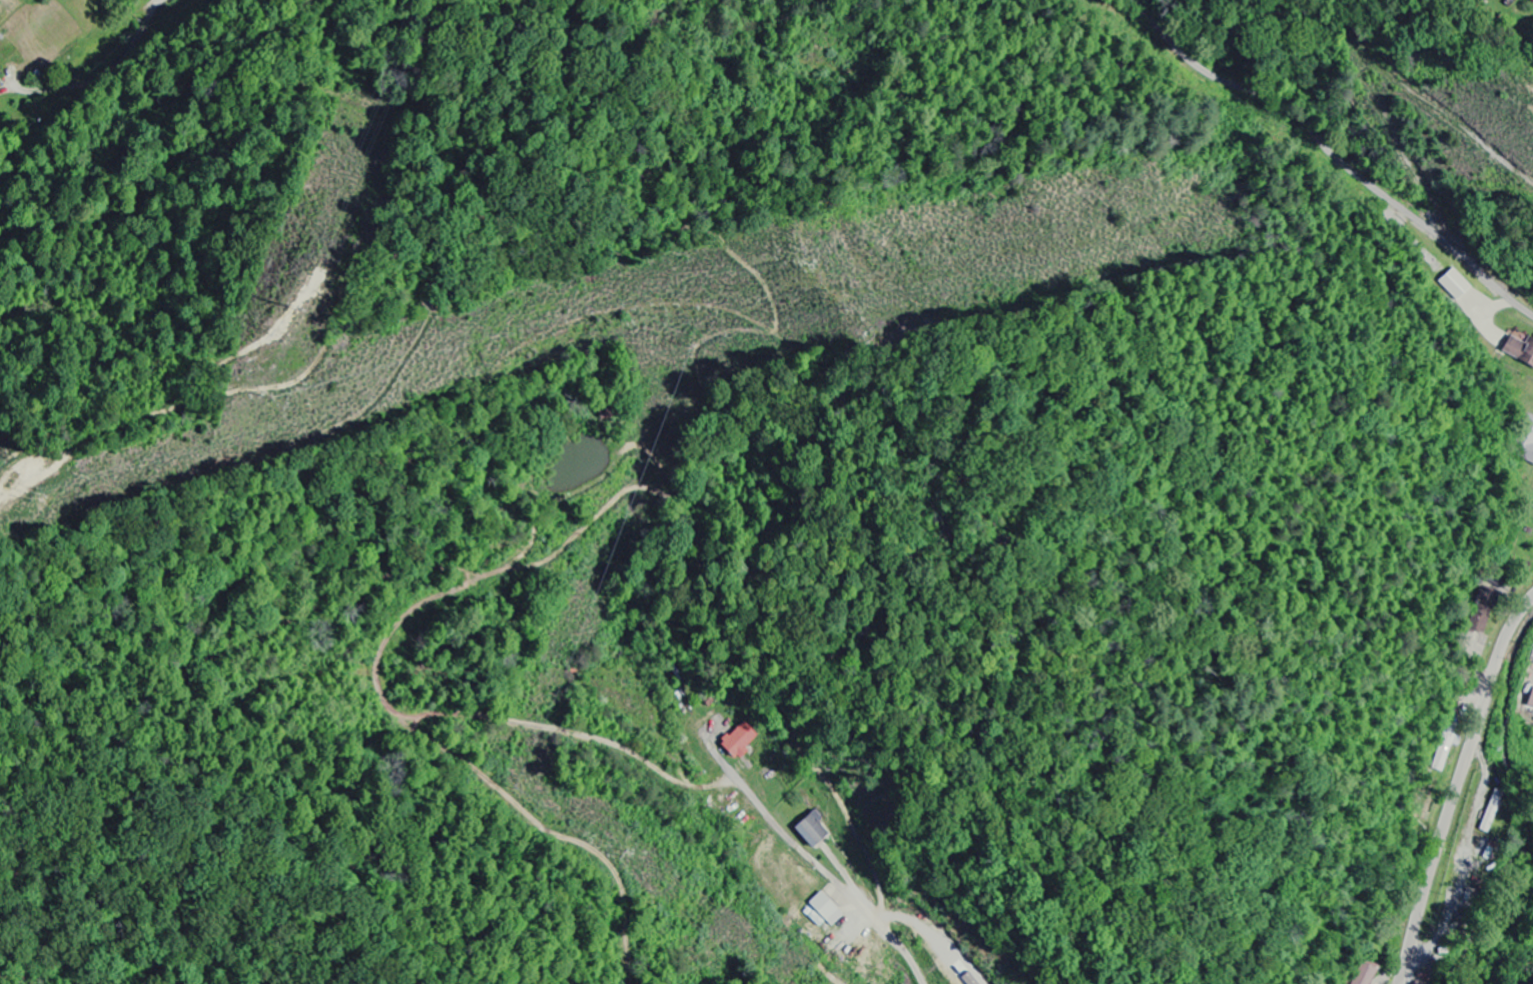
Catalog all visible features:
building: (1507, 0)
road: (61, 86)
building: (1, 89)
road: (1333, 156)
building: (1455, 285)
power tower: (281, 306)
building: (1519, 351)
building: (1525, 442)
building: (1531, 701)
building: (739, 741)
building: (1446, 747)
road: (1458, 788)
building: (811, 830)
road: (832, 878)
building: (823, 912)
building: (1364, 975)
building: (969, 979)

